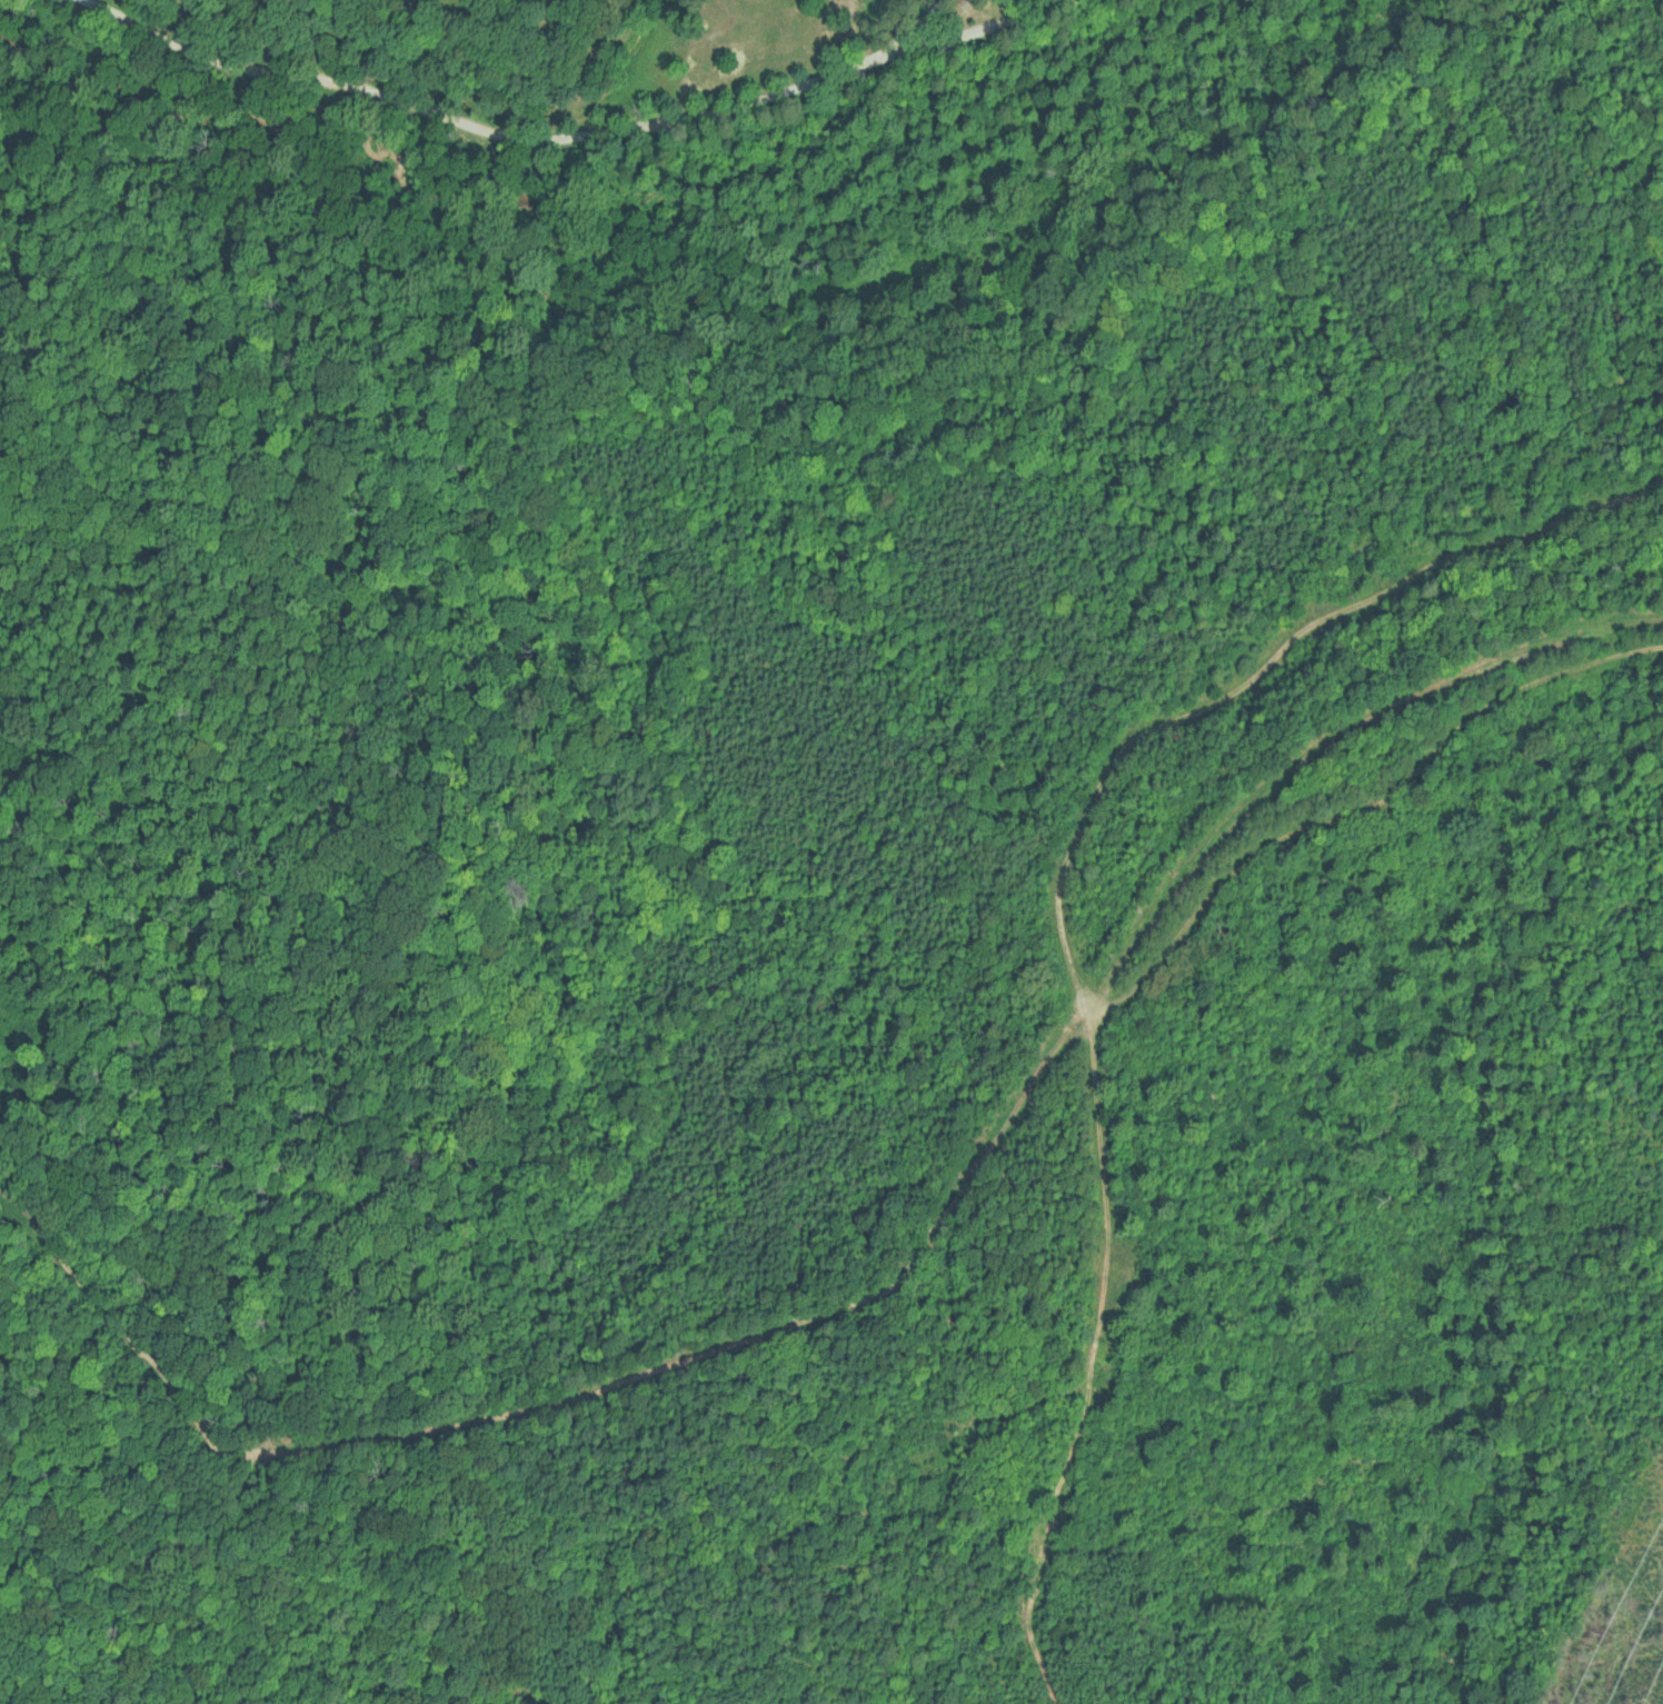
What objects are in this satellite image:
road: (147, 22)
road: (917, 31)
road: (644, 124)

